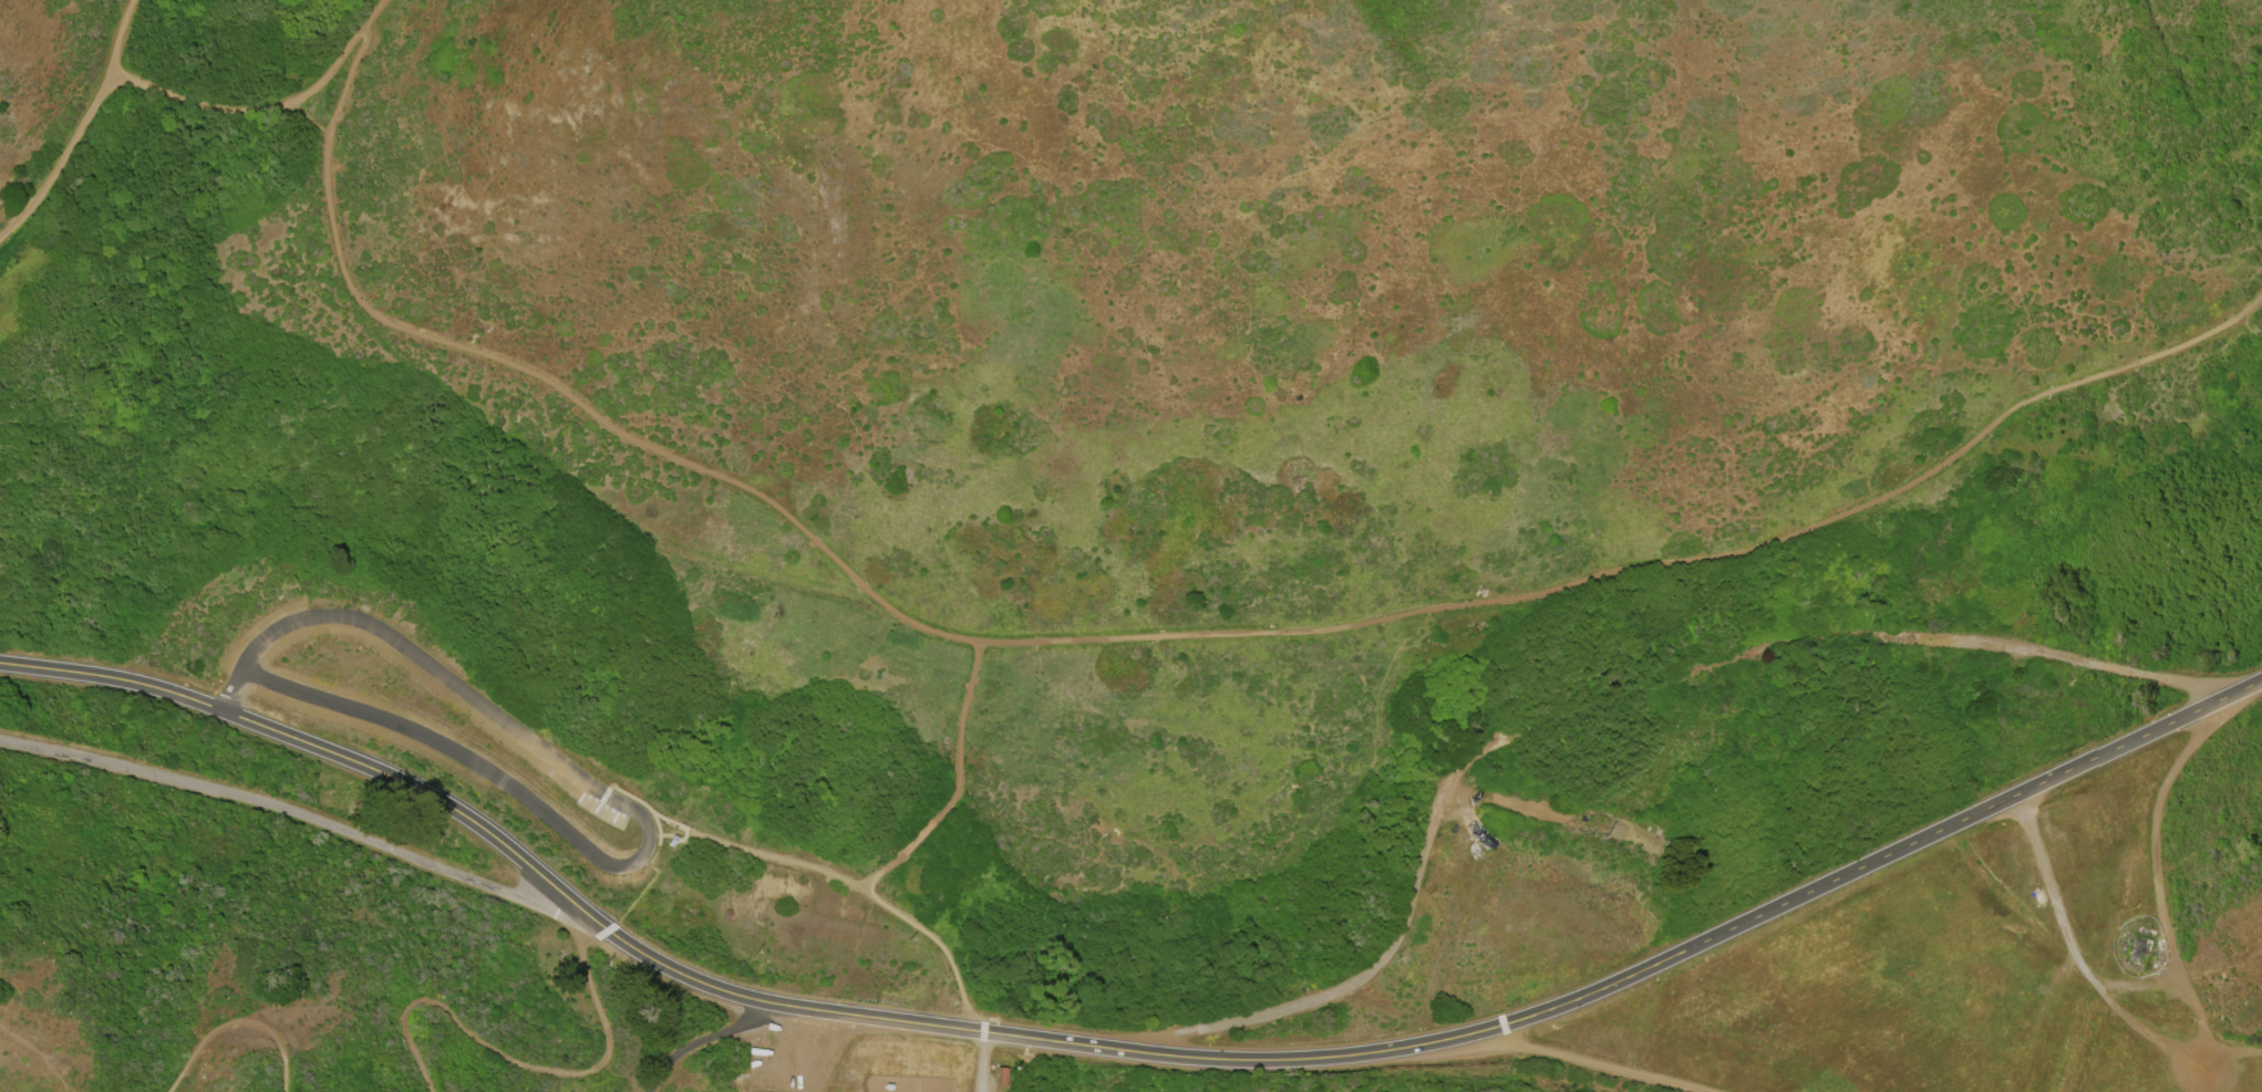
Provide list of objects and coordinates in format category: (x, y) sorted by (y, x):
road: (375, 13)
road: (125, 38)
road: (331, 66)
road: (200, 102)
road: (340, 102)
road: (310, 138)
road: (62, 162)
road: (1857, 513)
road: (807, 534)
road: (2091, 662)
parking lot: (444, 735)
road: (960, 735)
road: (1499, 801)
road: (633, 811)
road: (1461, 812)
road: (299, 815)
road: (2158, 819)
road: (920, 836)
road: (499, 841)
road: (745, 849)
road: (1886, 860)
road: (884, 871)
road: (941, 946)
road: (2077, 956)
road: (1370, 975)
road: (2141, 982)
road: (238, 1020)
road: (2201, 1032)
road: (710, 1040)
road: (982, 1063)
road: (1244, 1063)
road: (523, 1064)
road: (1601, 1068)
road: (2212, 1073)

